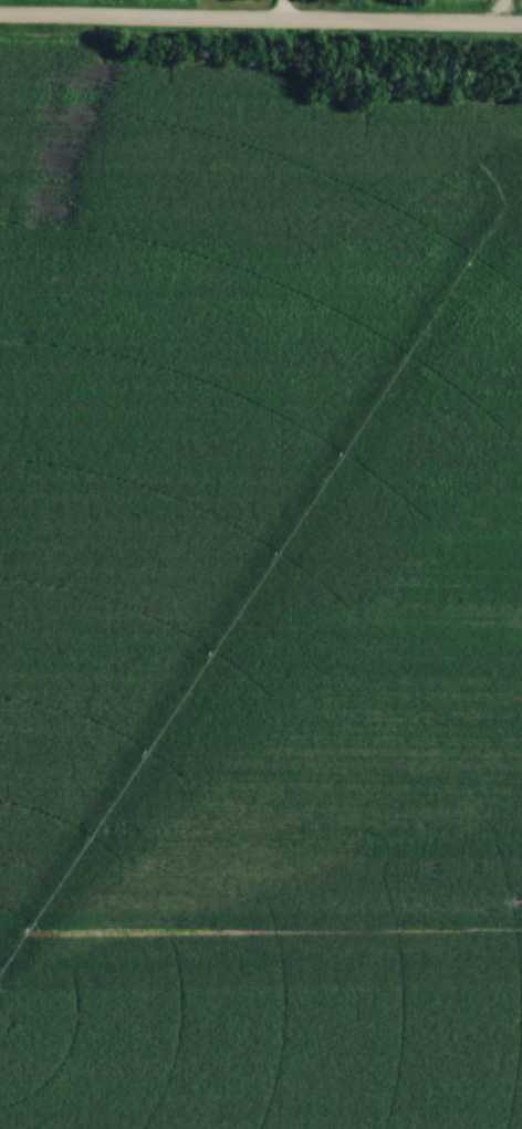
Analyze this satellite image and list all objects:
road: (281, 13)
road: (498, 15)
road: (261, 27)

